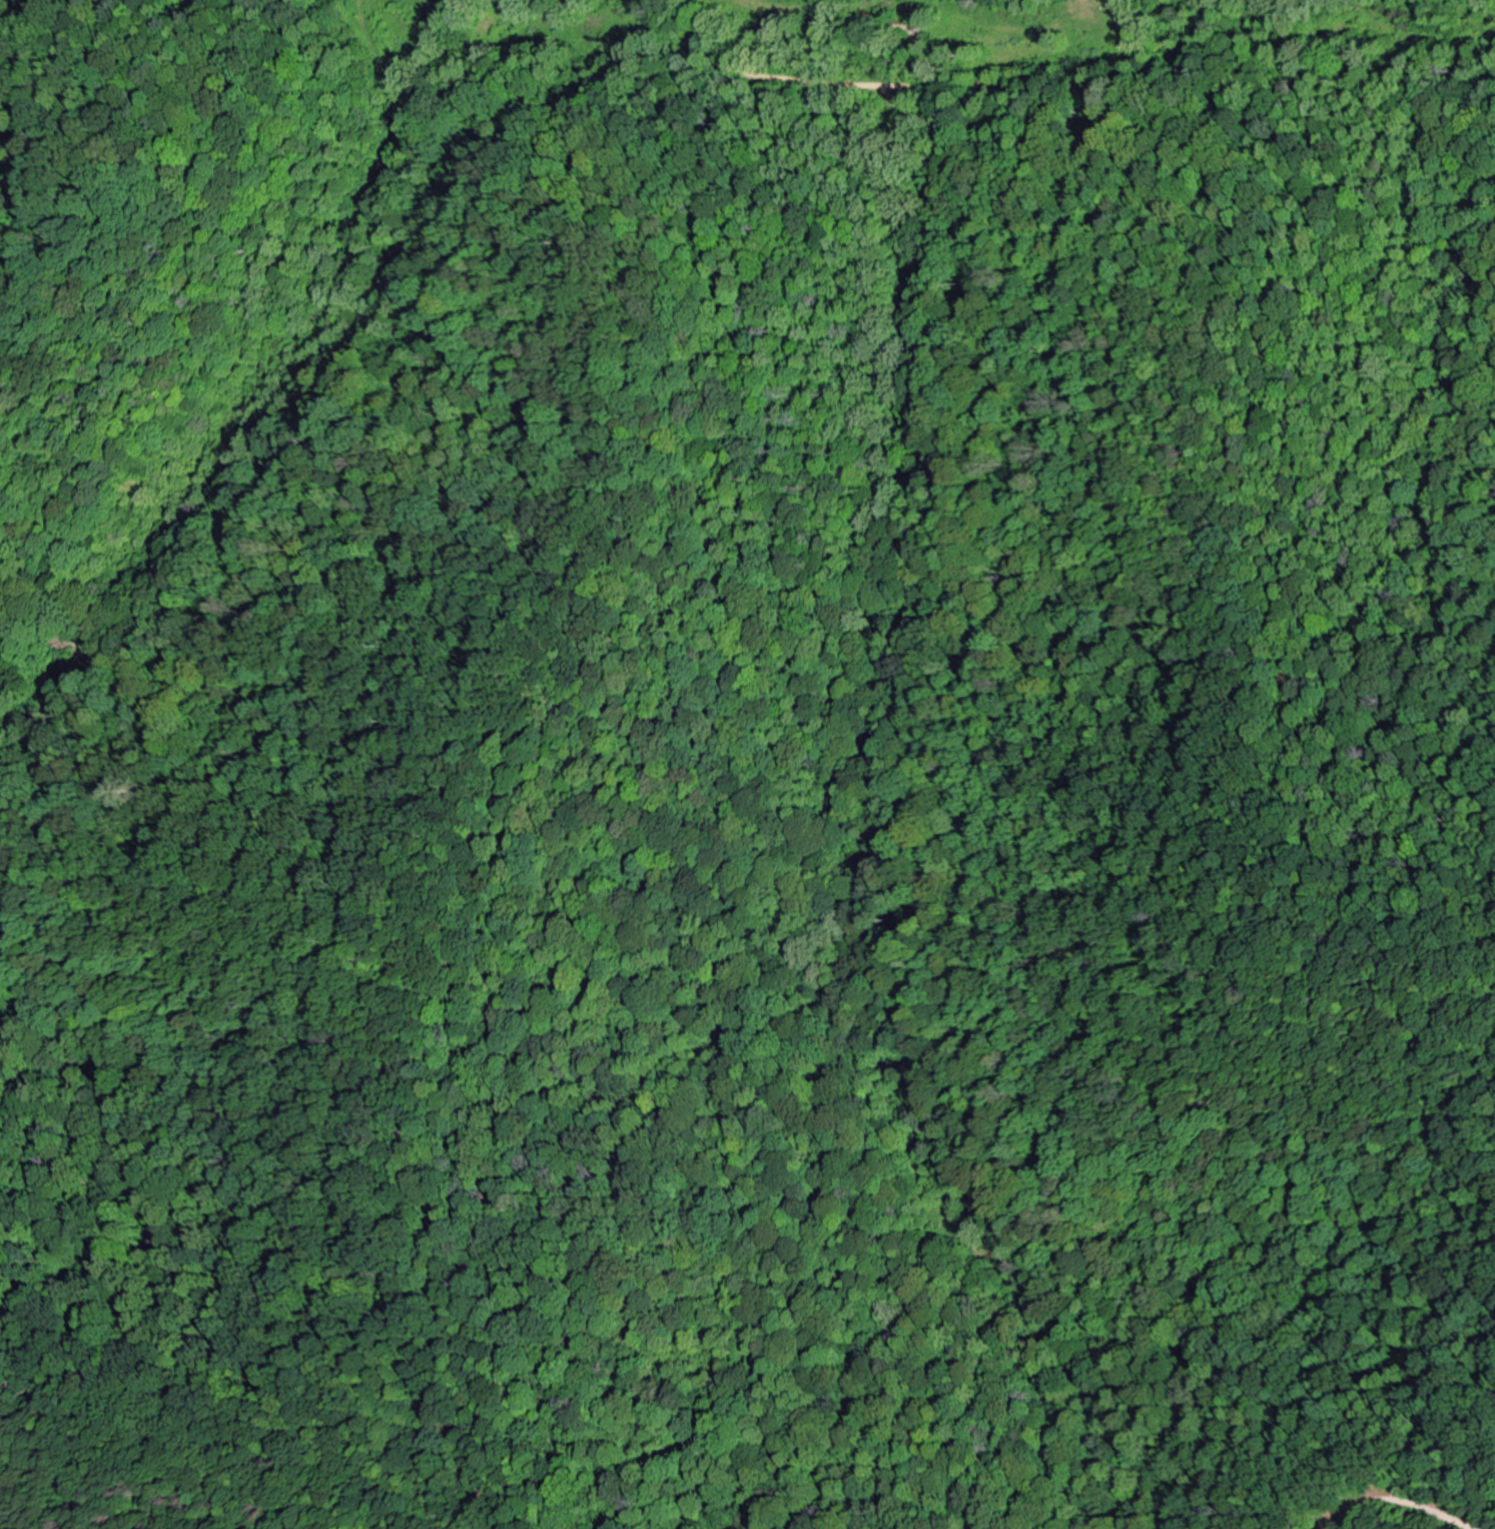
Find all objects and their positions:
road: (1393, 1499)

